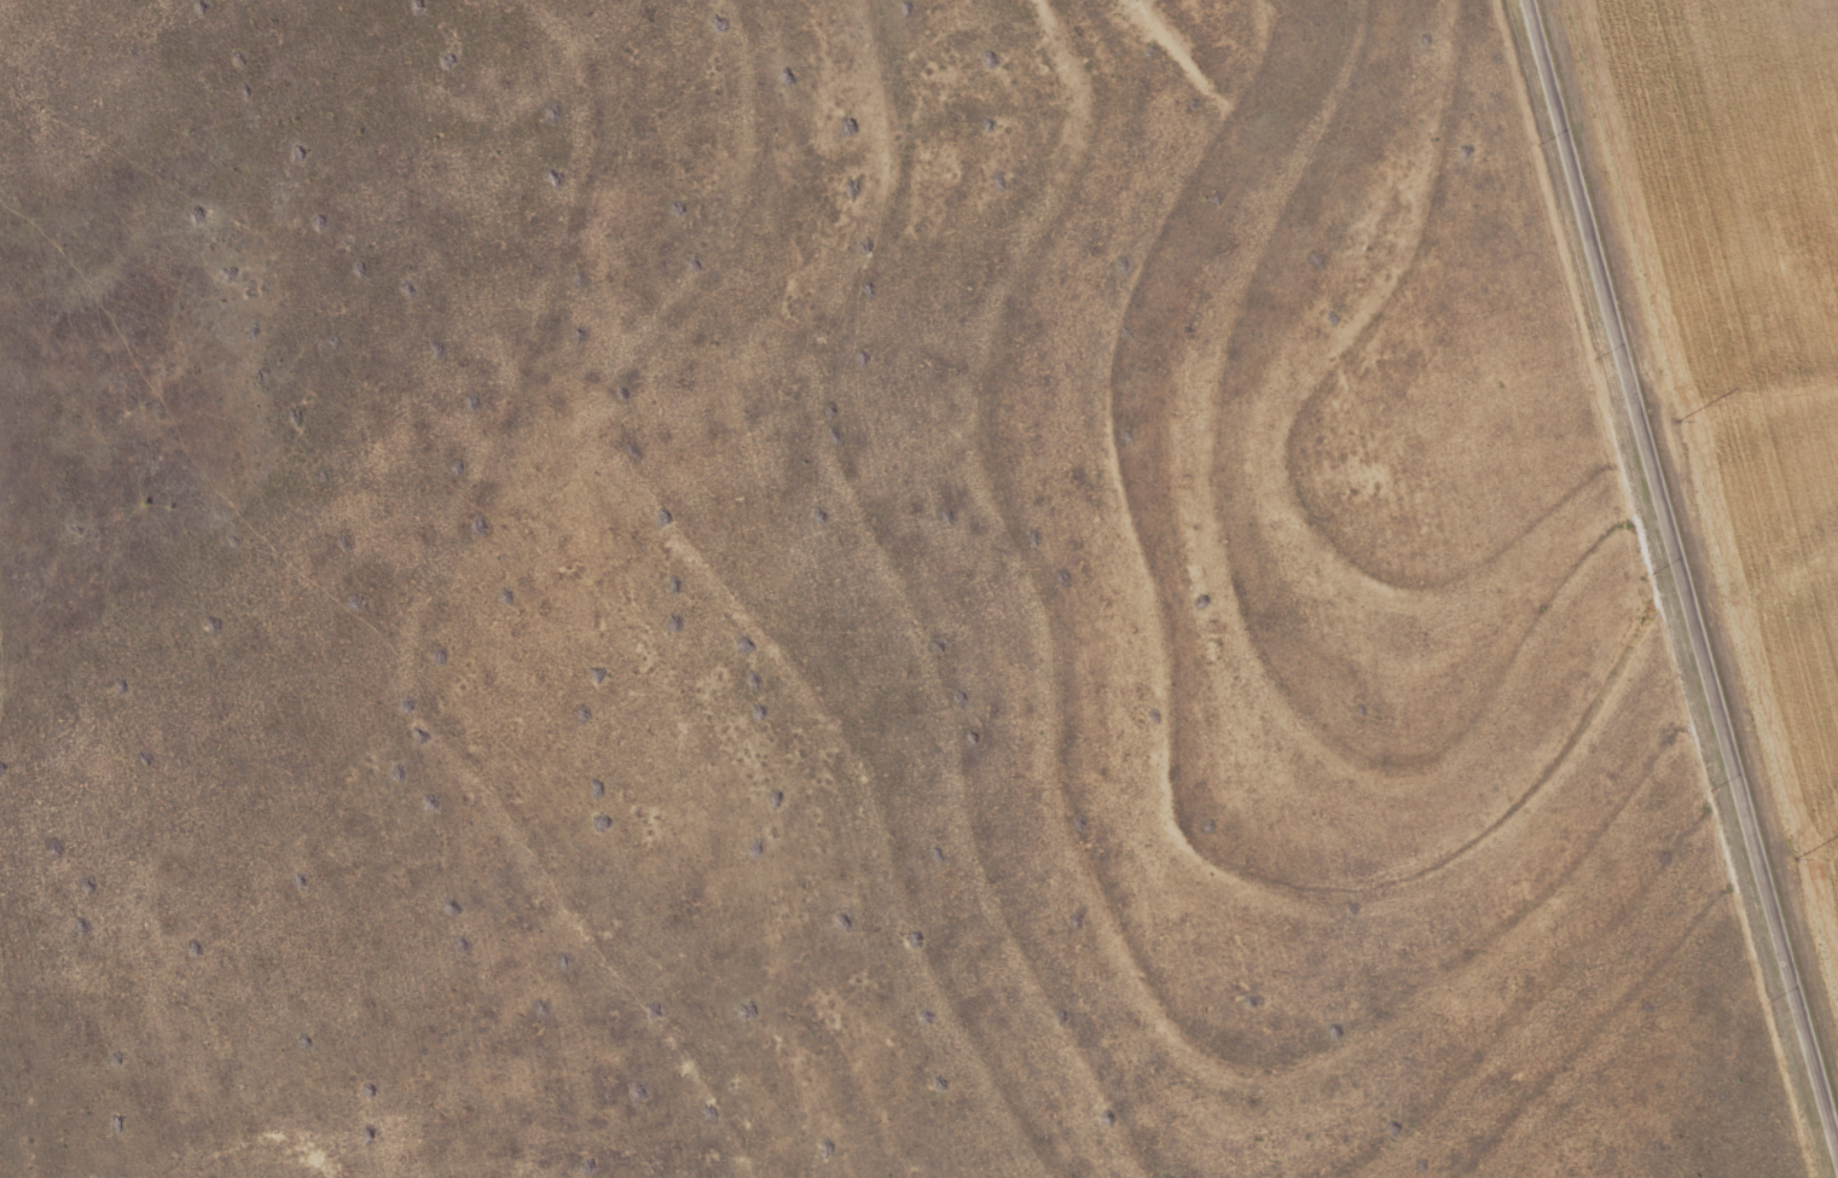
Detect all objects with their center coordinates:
power tower: (1677, 423)
road: (1682, 576)
power tower: (1796, 857)

